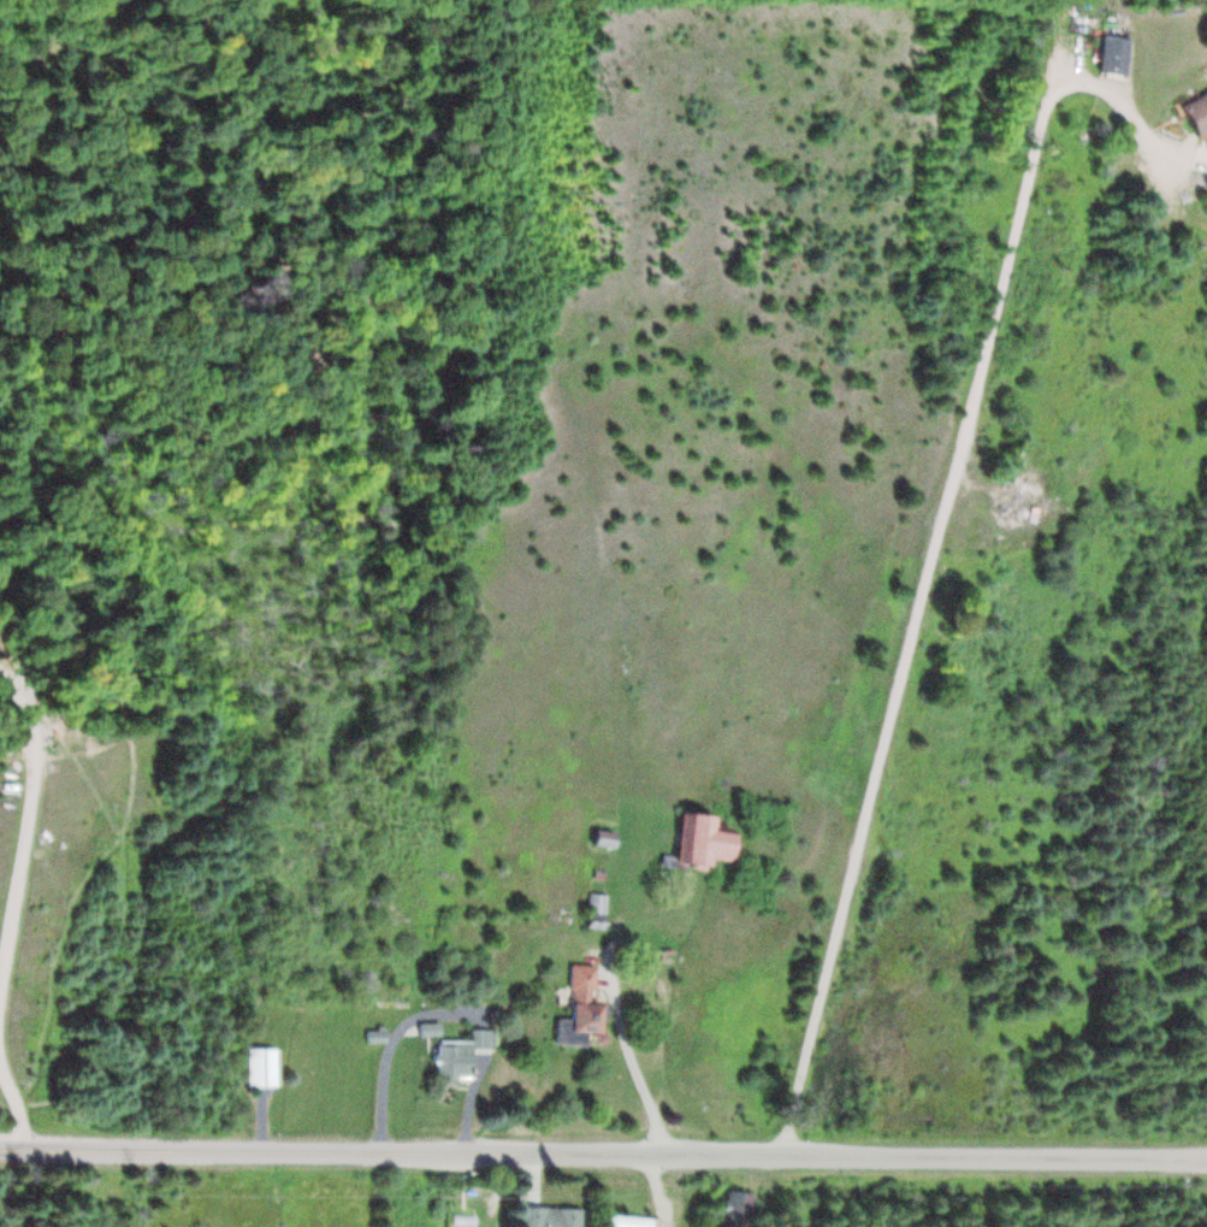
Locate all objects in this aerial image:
building: (1111, 53)
building: (1191, 111)
road: (26, 831)
building: (594, 837)
building: (688, 840)
building: (590, 909)
building: (569, 1007)
building: (449, 1060)
building: (262, 1067)
road: (14, 1107)
road: (603, 1150)
building: (721, 1209)
building: (543, 1216)
building: (620, 1220)

